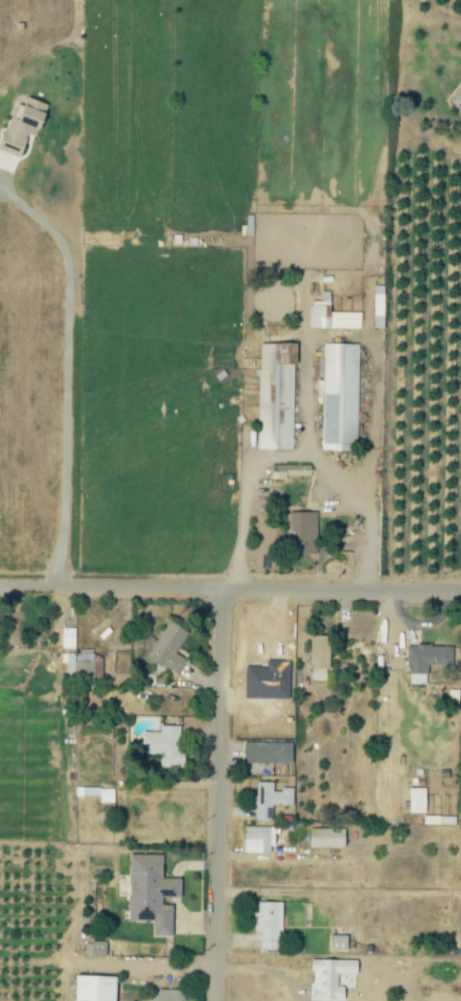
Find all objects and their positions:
building: (456, 101)
building: (21, 125)
building: (379, 302)
building: (332, 319)
road: (66, 376)
building: (276, 397)
road: (297, 459)
building: (303, 533)
road: (230, 593)
building: (68, 639)
building: (167, 649)
building: (320, 659)
building: (426, 661)
building: (83, 667)
building: (272, 681)
building: (164, 746)
building: (268, 753)
road: (222, 797)
building: (270, 801)
building: (417, 801)
building: (326, 839)
building: (258, 840)
building: (151, 893)
building: (269, 924)
building: (338, 942)
building: (97, 949)
road: (267, 971)
building: (330, 983)
building: (93, 988)
building: (167, 995)

